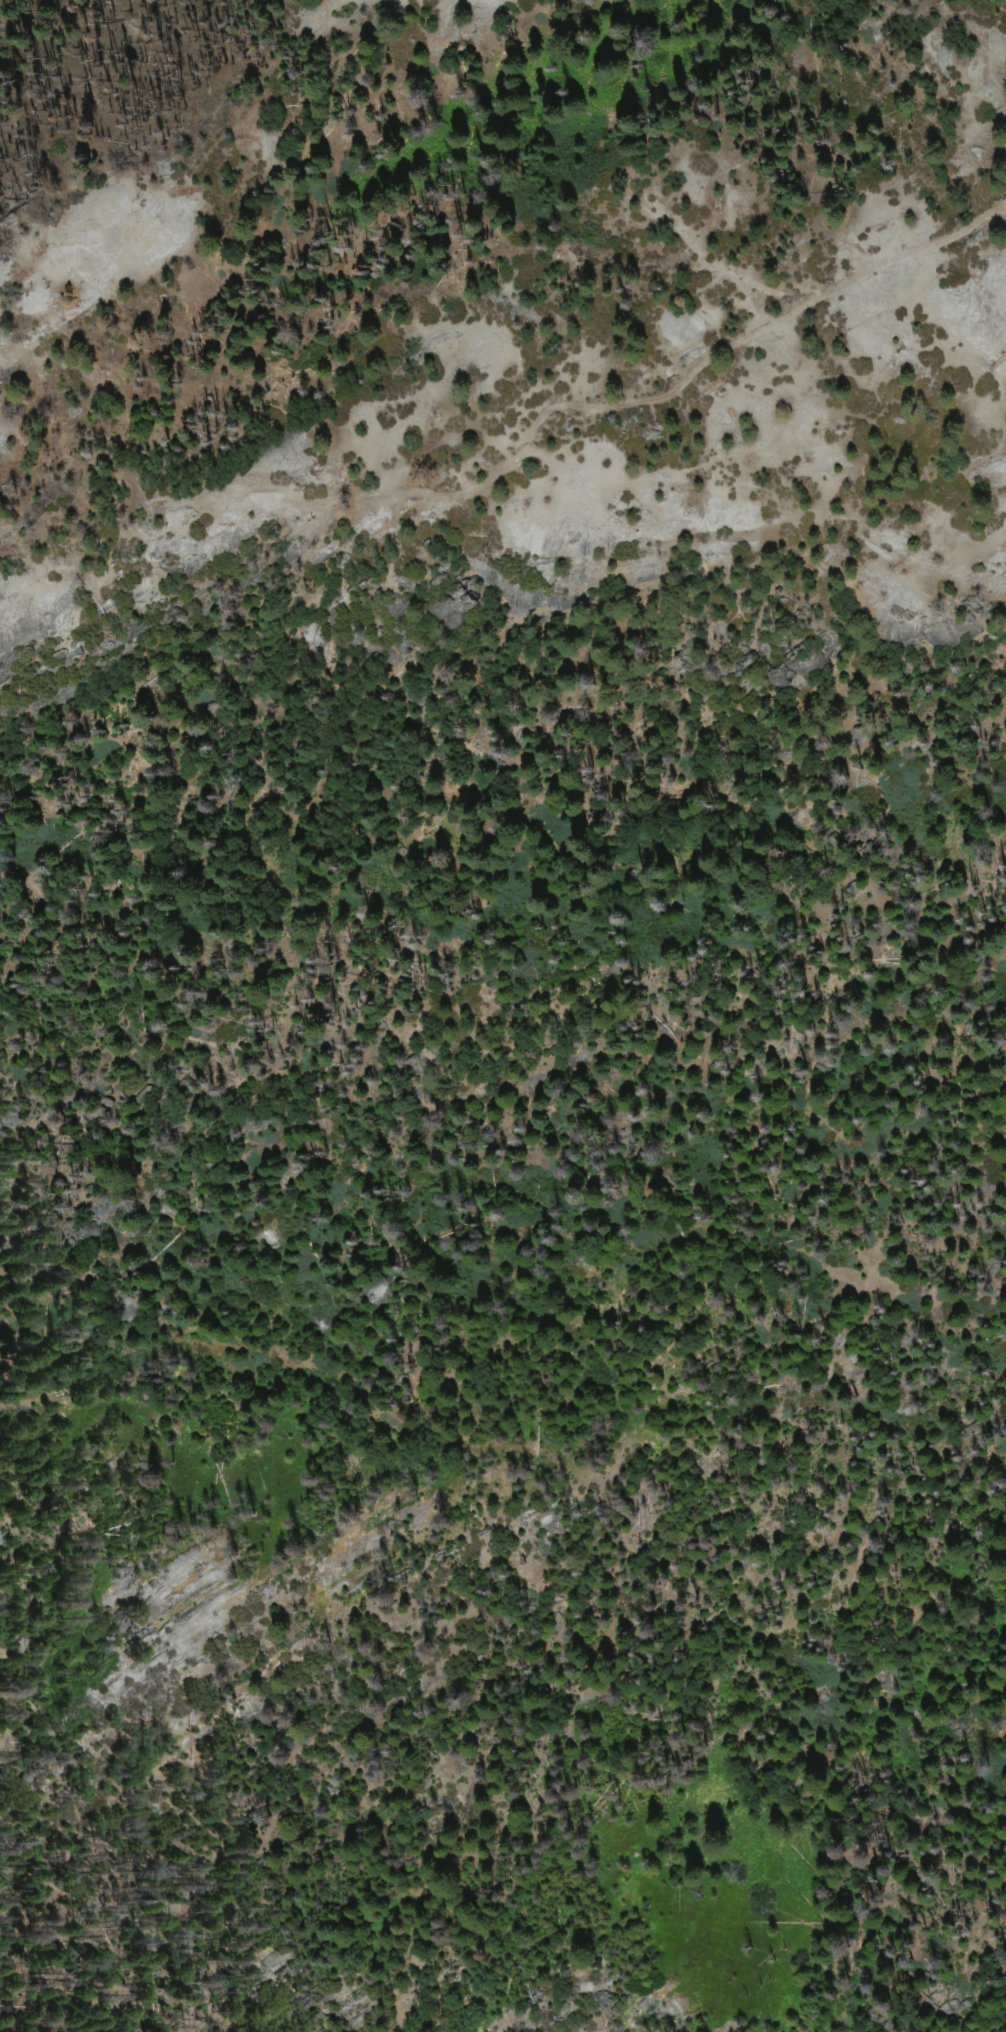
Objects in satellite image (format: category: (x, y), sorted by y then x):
road: (466, 485)

